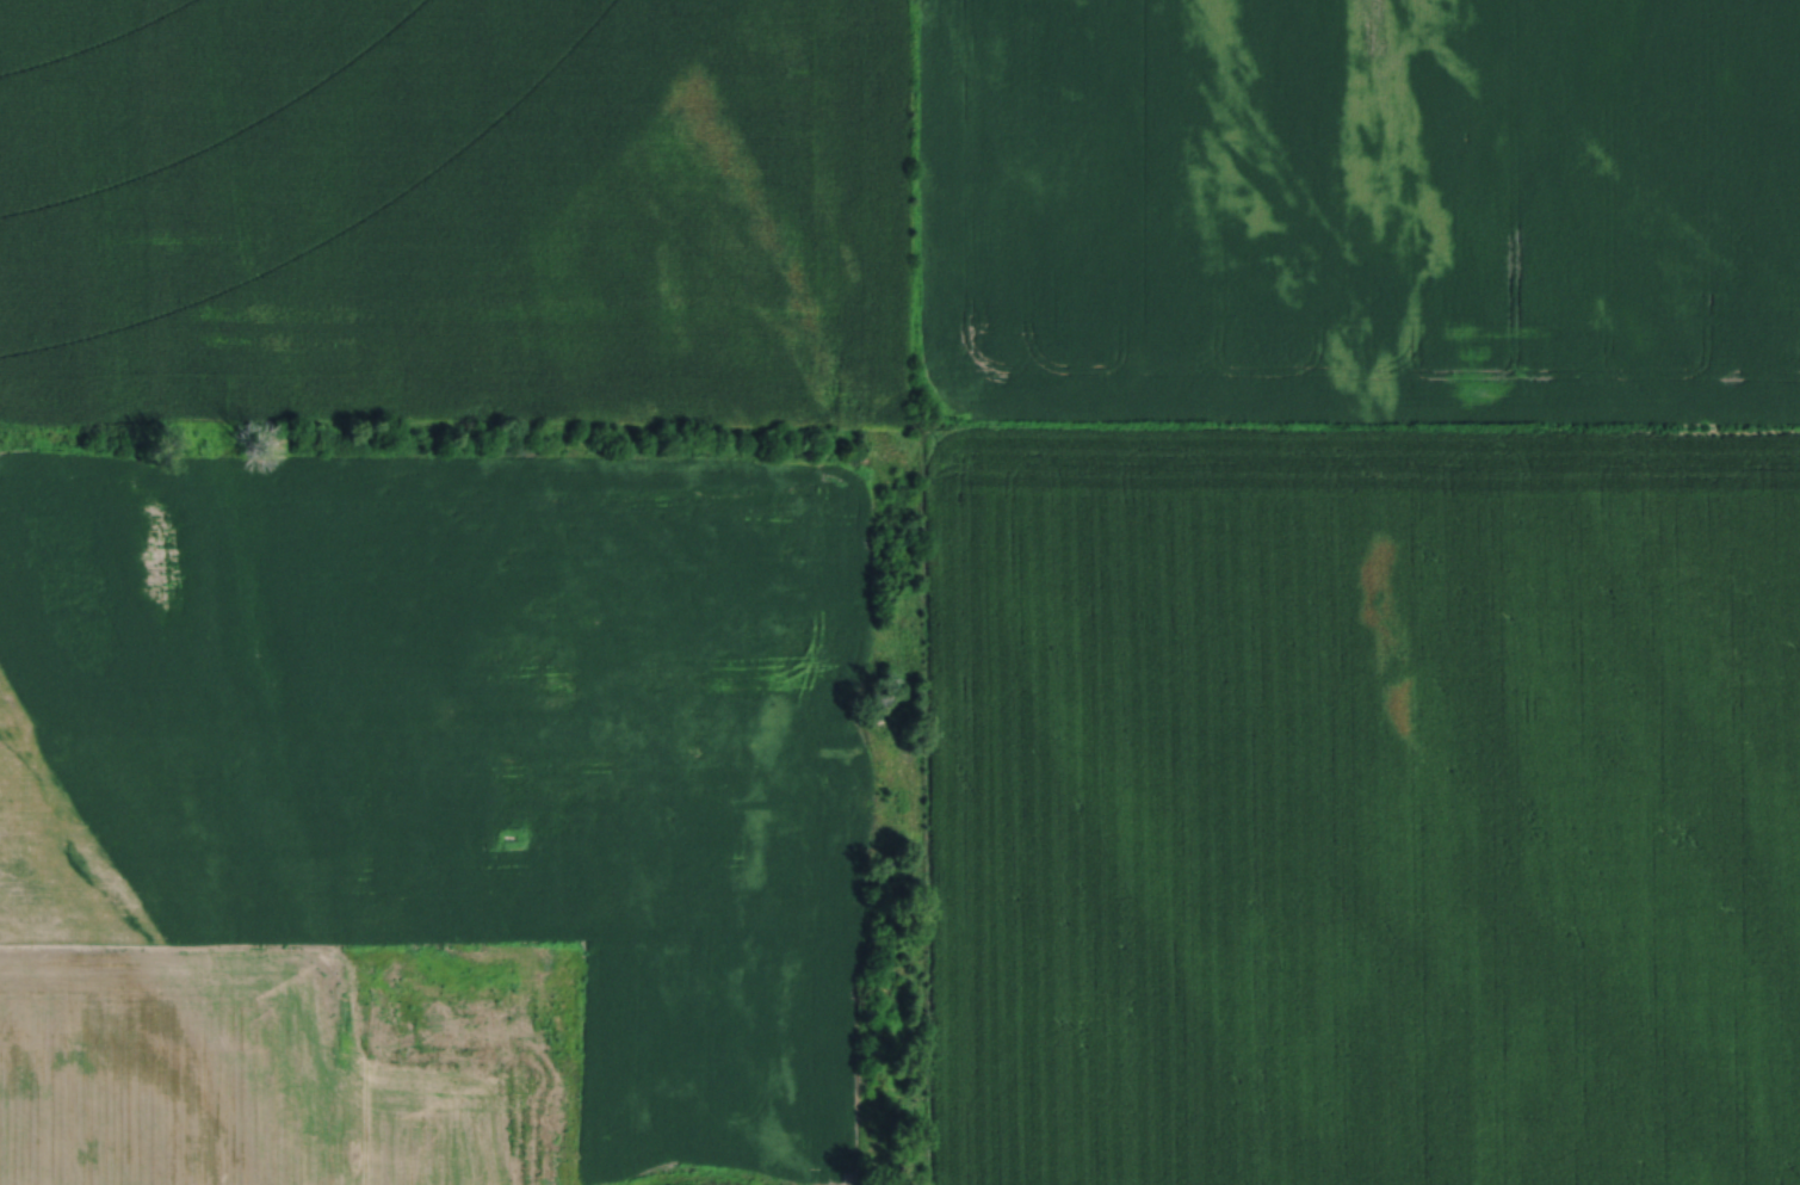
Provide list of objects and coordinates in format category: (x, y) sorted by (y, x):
crop: (1362, 803)

